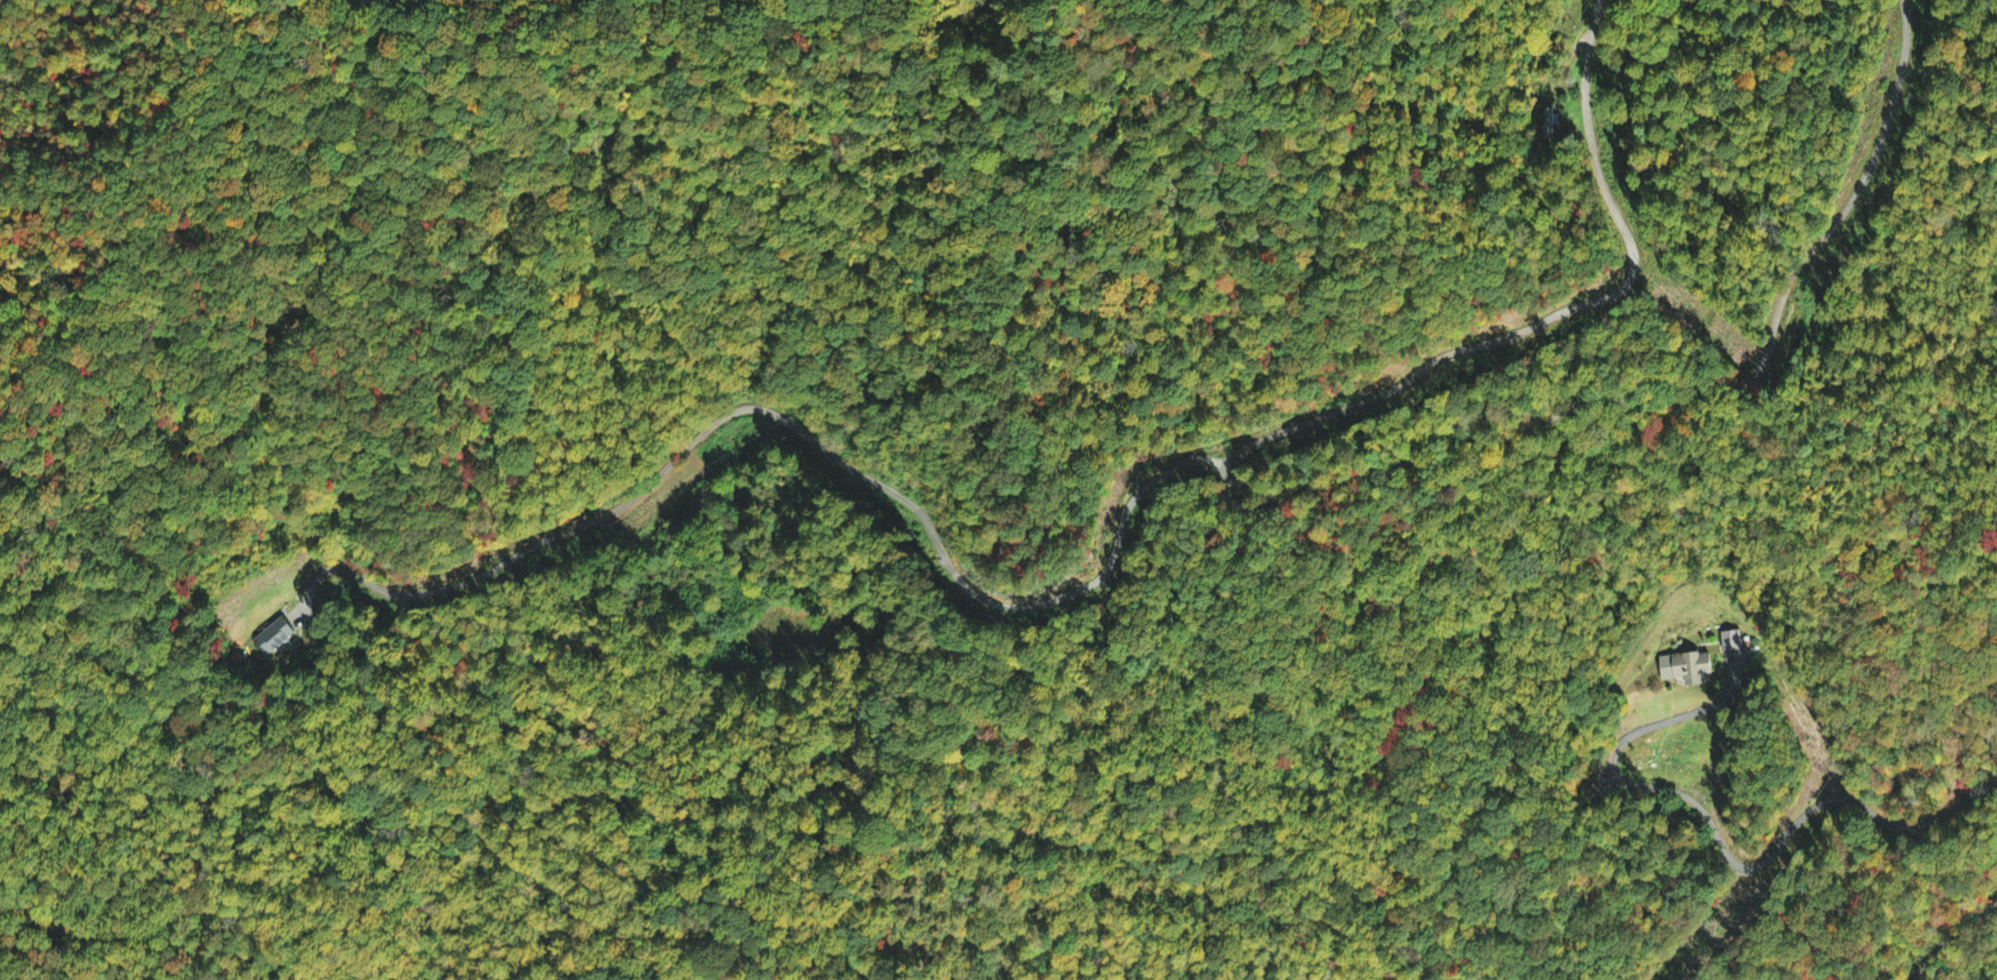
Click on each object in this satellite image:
building: (1549, 122)
road: (800, 431)
road: (1327, 489)
building: (275, 638)
building: (1731, 642)
building: (1688, 668)
road: (1724, 844)
road: (1953, 936)

